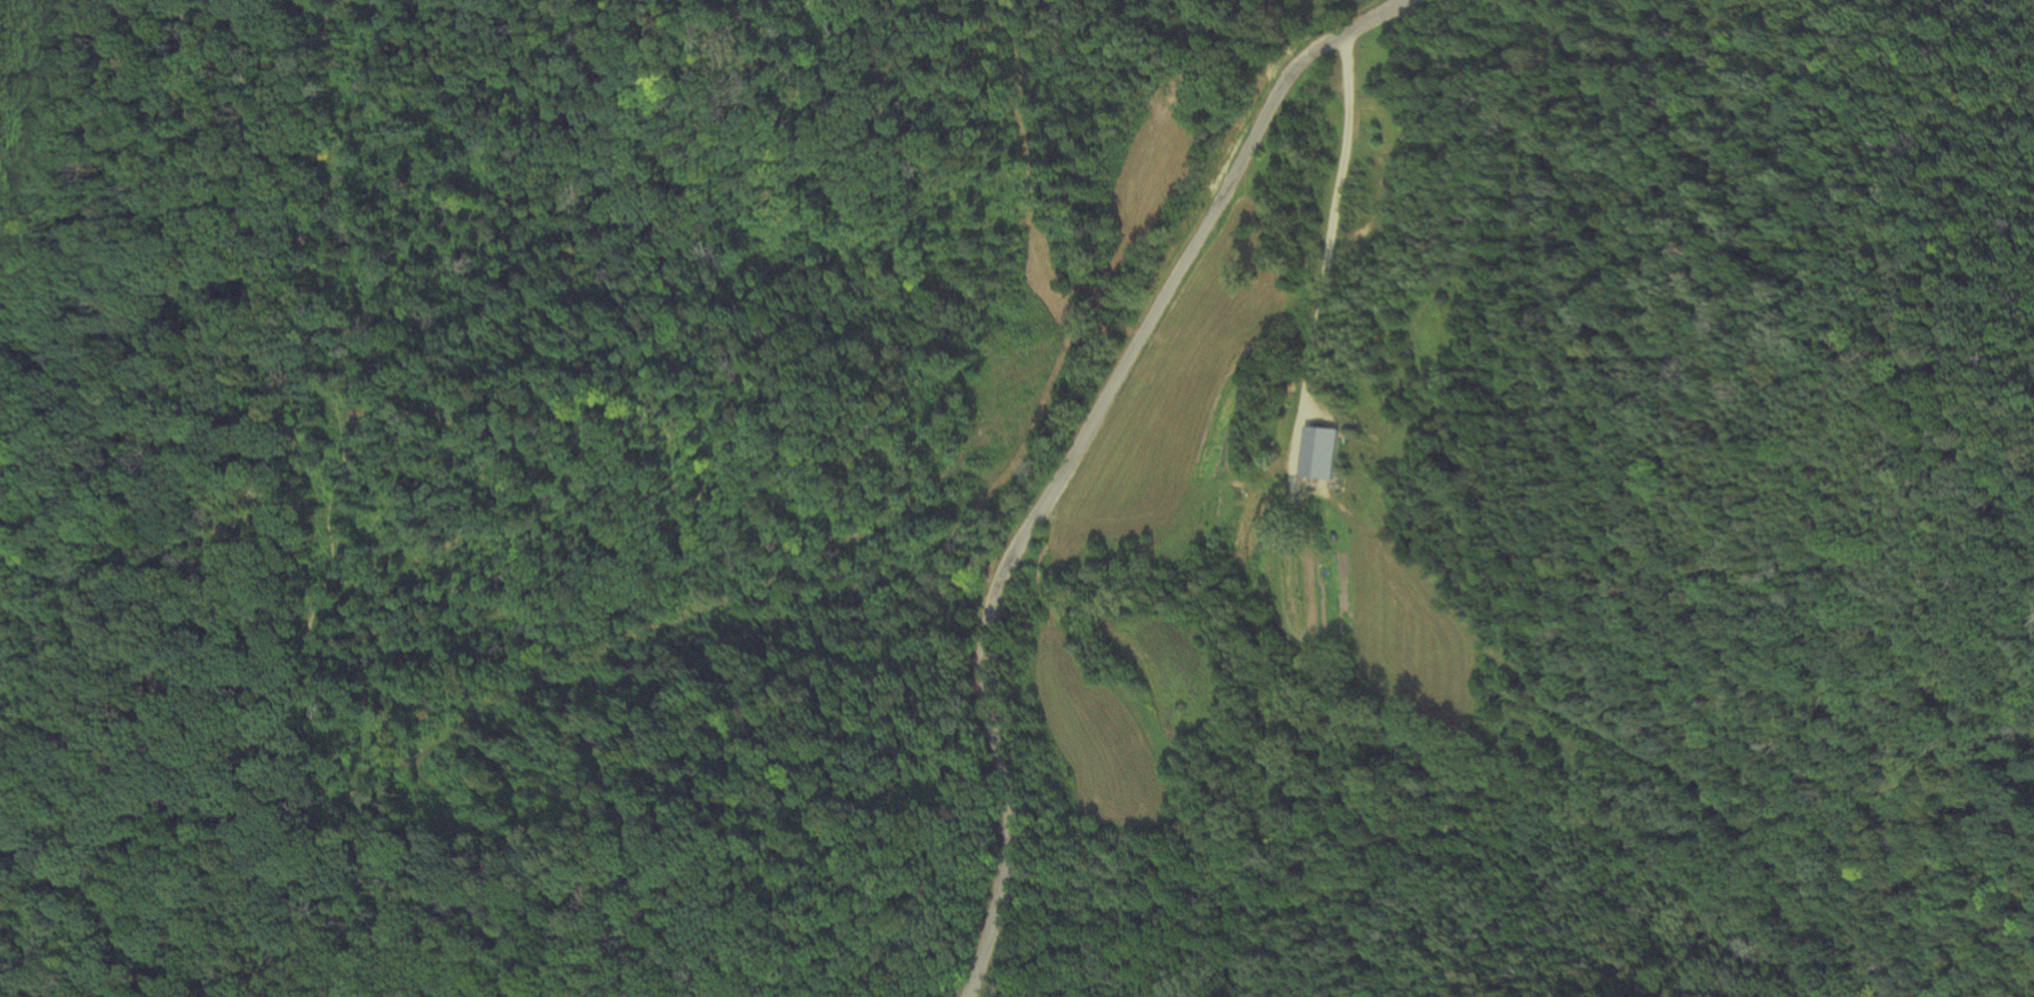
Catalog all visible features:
road: (1330, 222)
road: (1071, 452)

